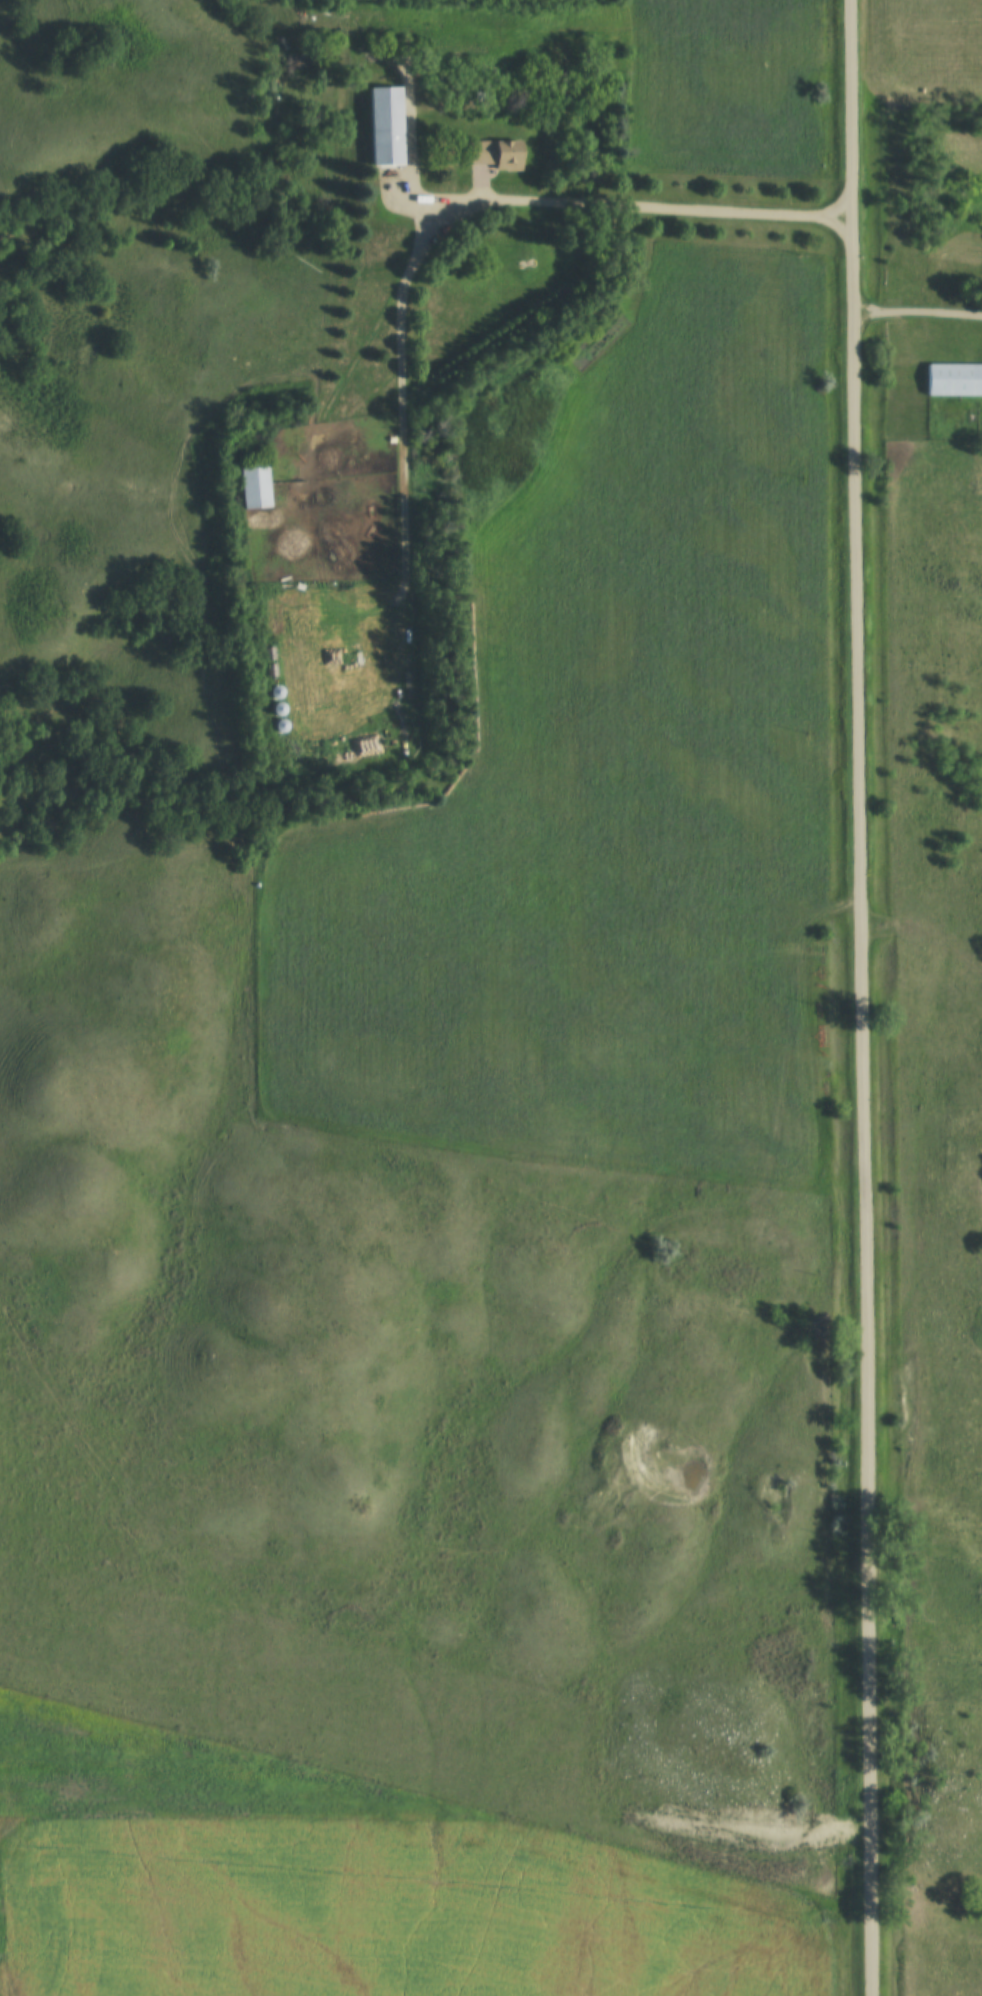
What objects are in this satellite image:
building: (388, 123)
building: (497, 151)
road: (544, 199)
road: (411, 200)
road: (916, 309)
building: (956, 377)
building: (256, 483)
building: (270, 652)
building: (272, 669)
building: (278, 691)
silo: (278, 691)
building: (280, 708)
silo: (280, 708)
building: (282, 724)
silo: (282, 724)
road: (862, 997)

